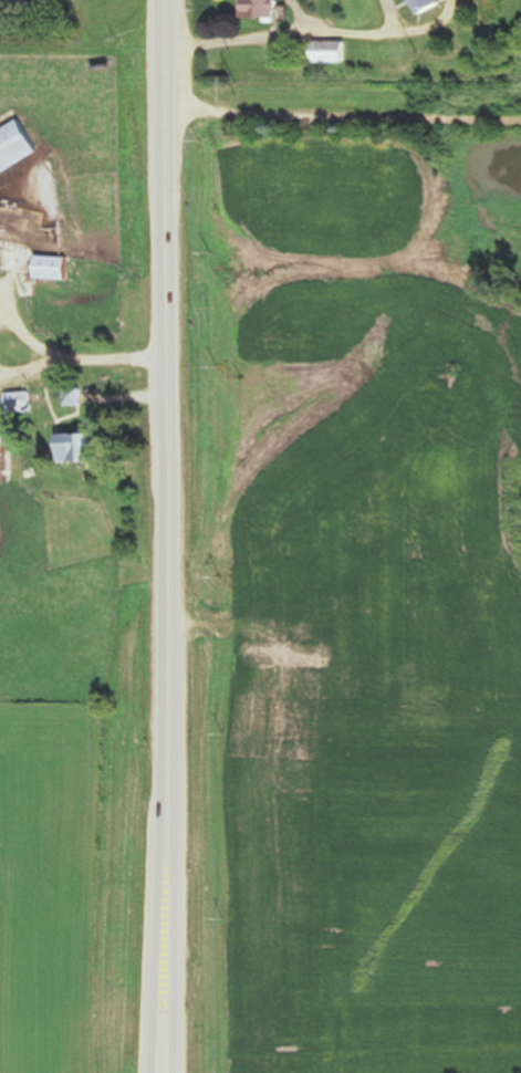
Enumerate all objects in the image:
building: (426, 6)
building: (262, 10)
building: (333, 52)
power tower: (233, 87)
road: (342, 117)
building: (18, 148)
building: (3, 248)
building: (56, 267)
road: (28, 333)
building: (14, 361)
road: (112, 361)
road: (28, 379)
building: (22, 403)
building: (6, 445)
building: (84, 448)
road: (168, 479)
crop: (351, 602)
road: (152, 1015)
road: (170, 1015)

